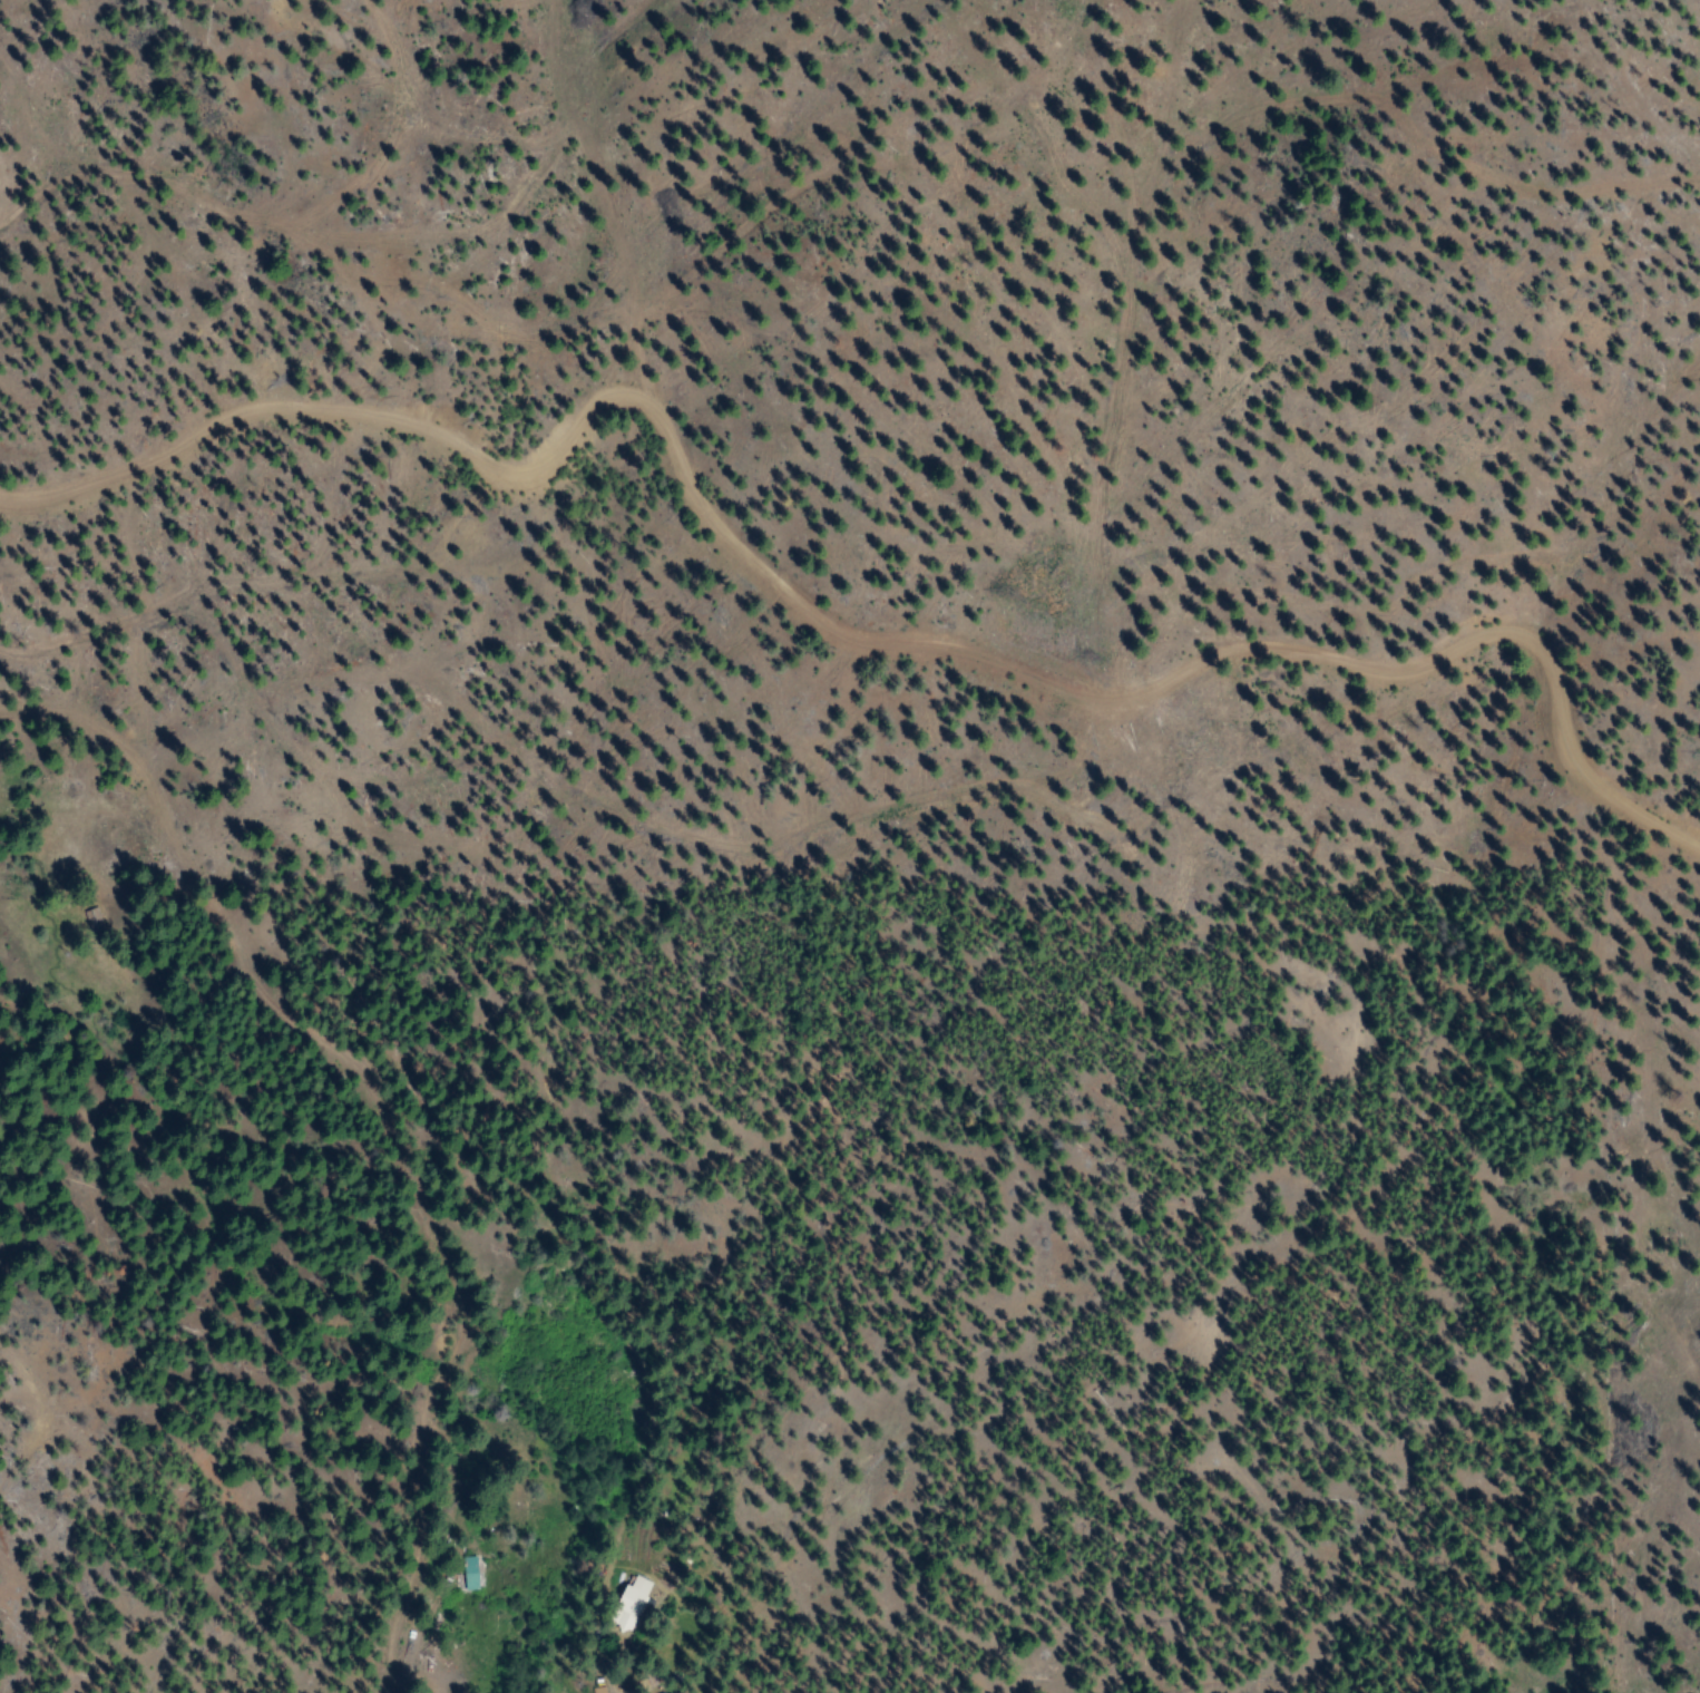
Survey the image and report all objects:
road: (854, 583)
building: (92, 922)
road: (371, 1147)
building: (631, 1603)

